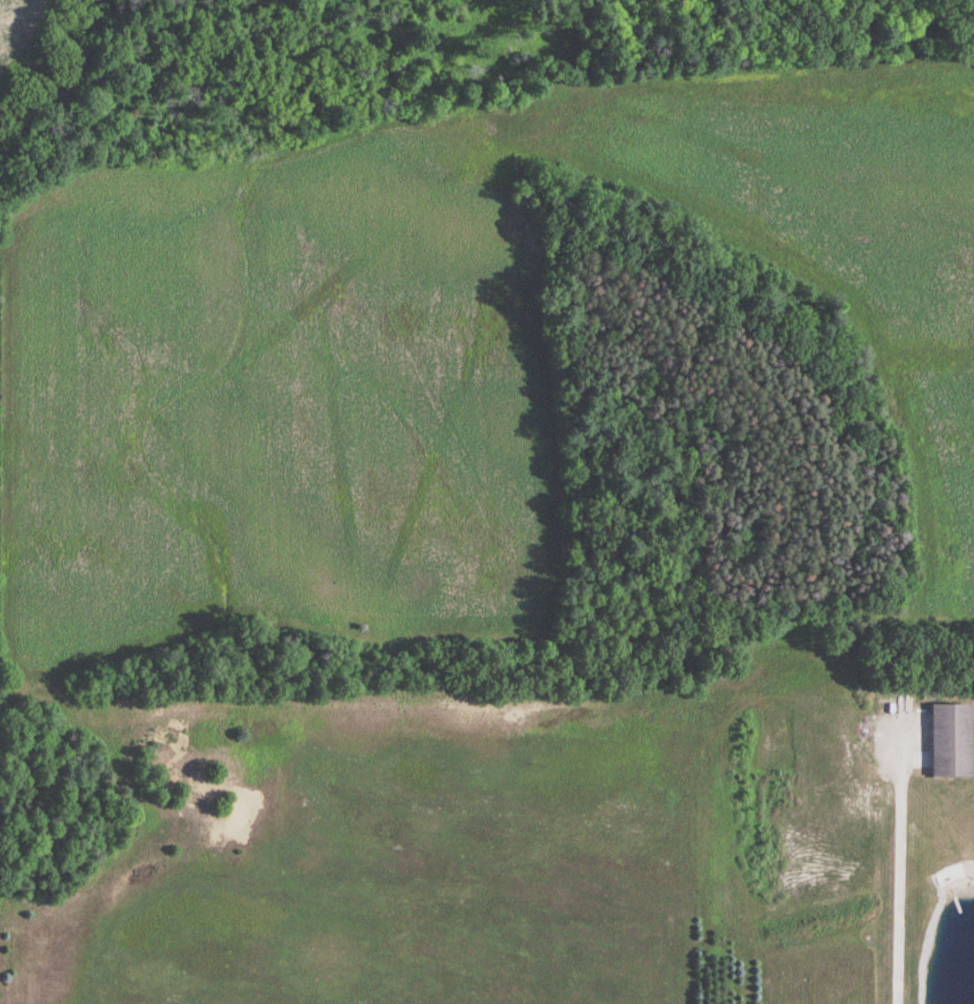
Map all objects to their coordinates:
river: (67, 88)
building: (949, 743)
road: (899, 864)

